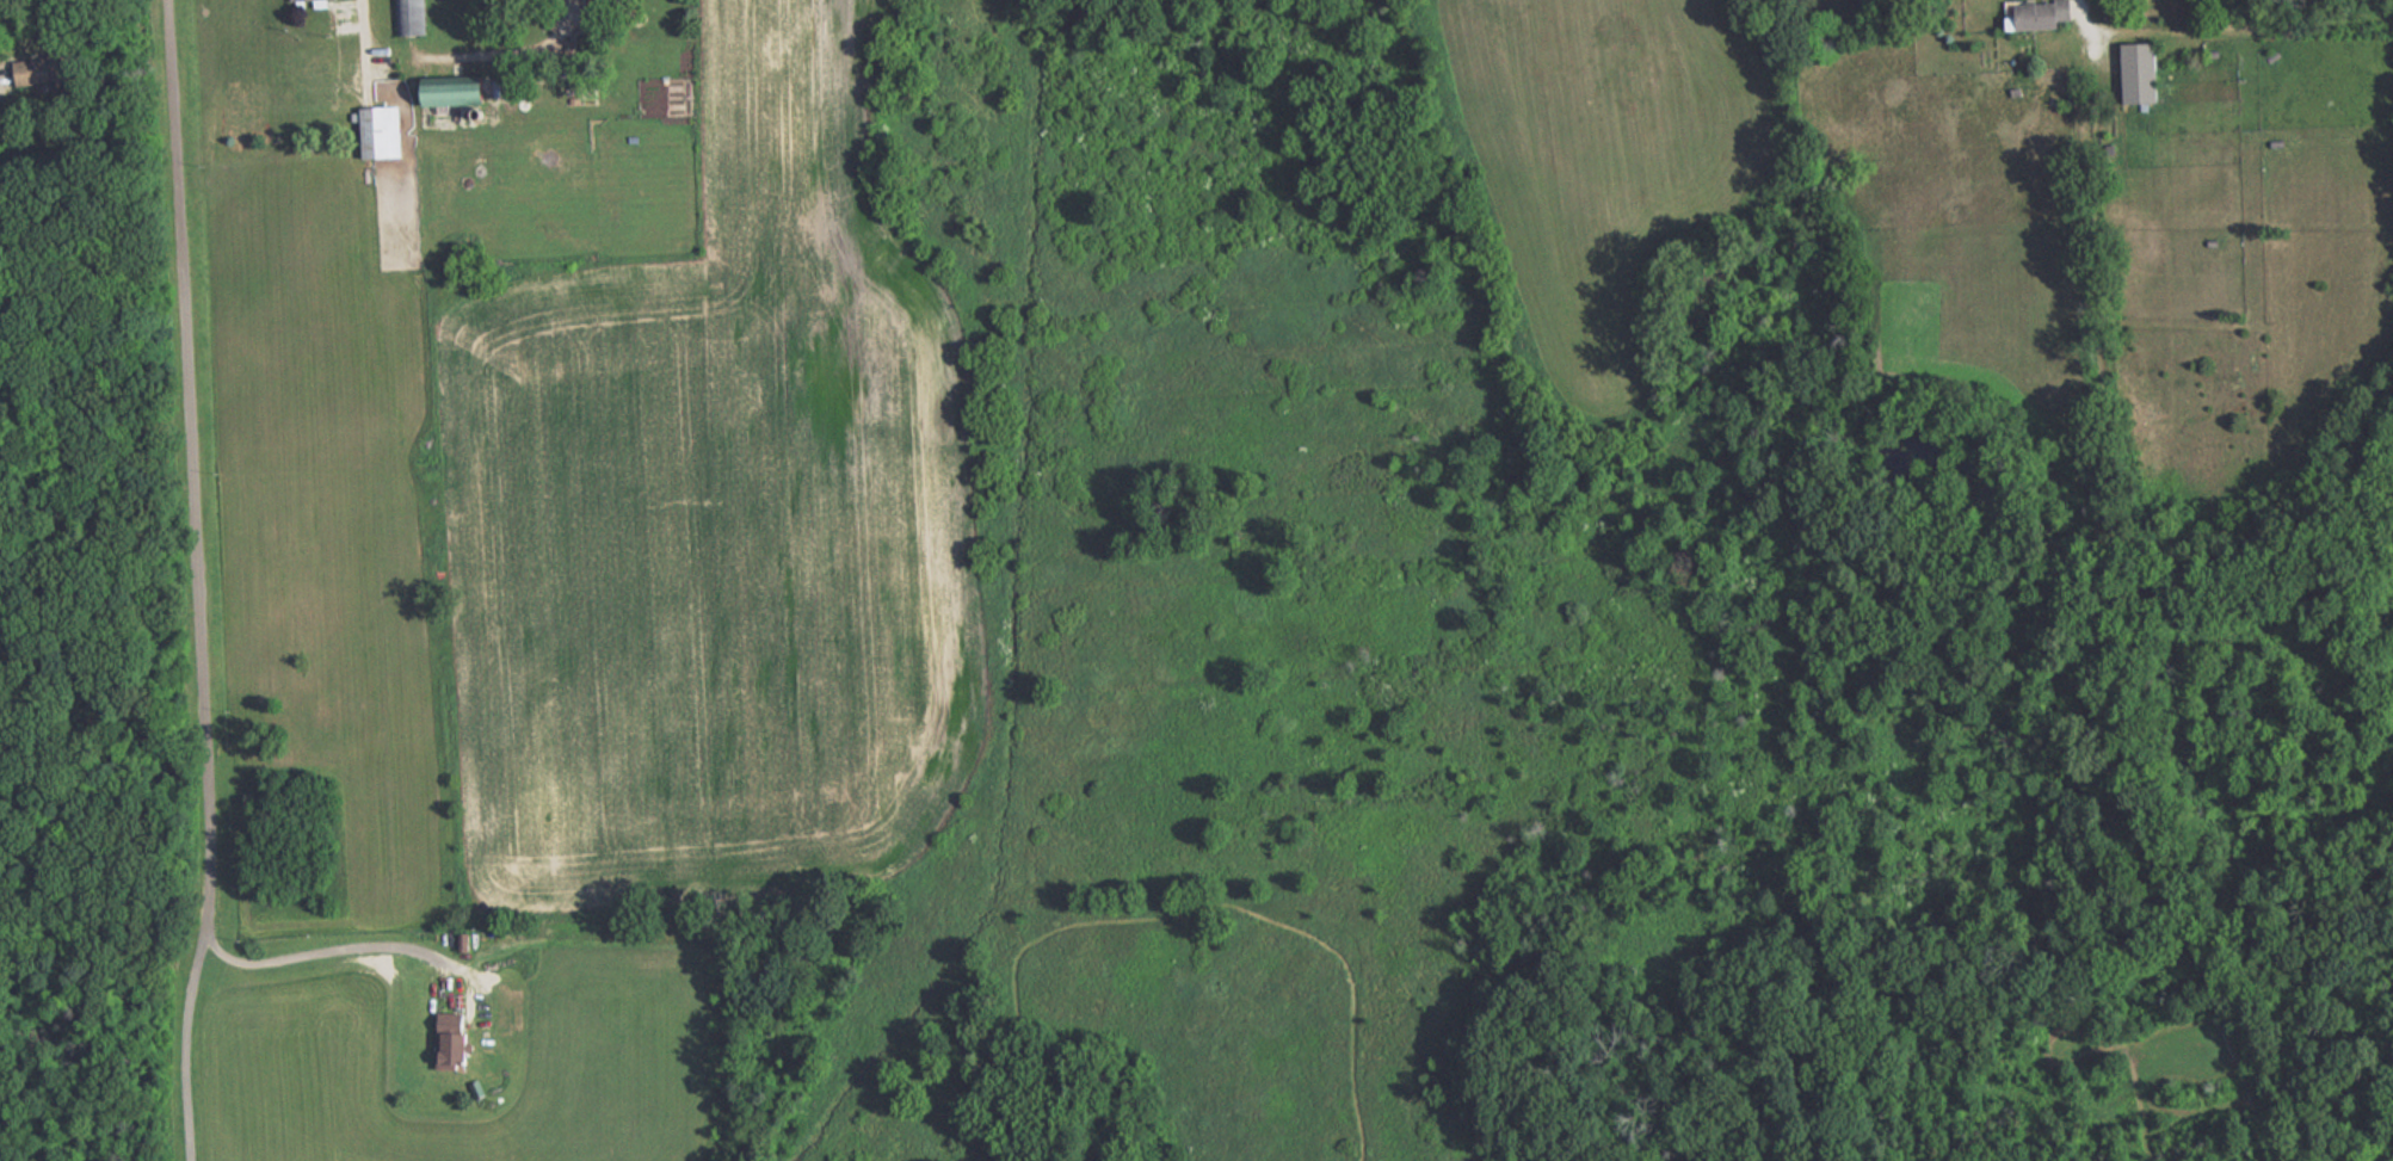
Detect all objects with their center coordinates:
building: (2043, 14)
building: (409, 17)
road: (2084, 17)
road: (562, 18)
road: (368, 38)
building: (37, 68)
building: (2142, 72)
building: (460, 89)
building: (383, 132)
road: (187, 465)
road: (335, 947)
building: (454, 1039)
road: (185, 1044)

